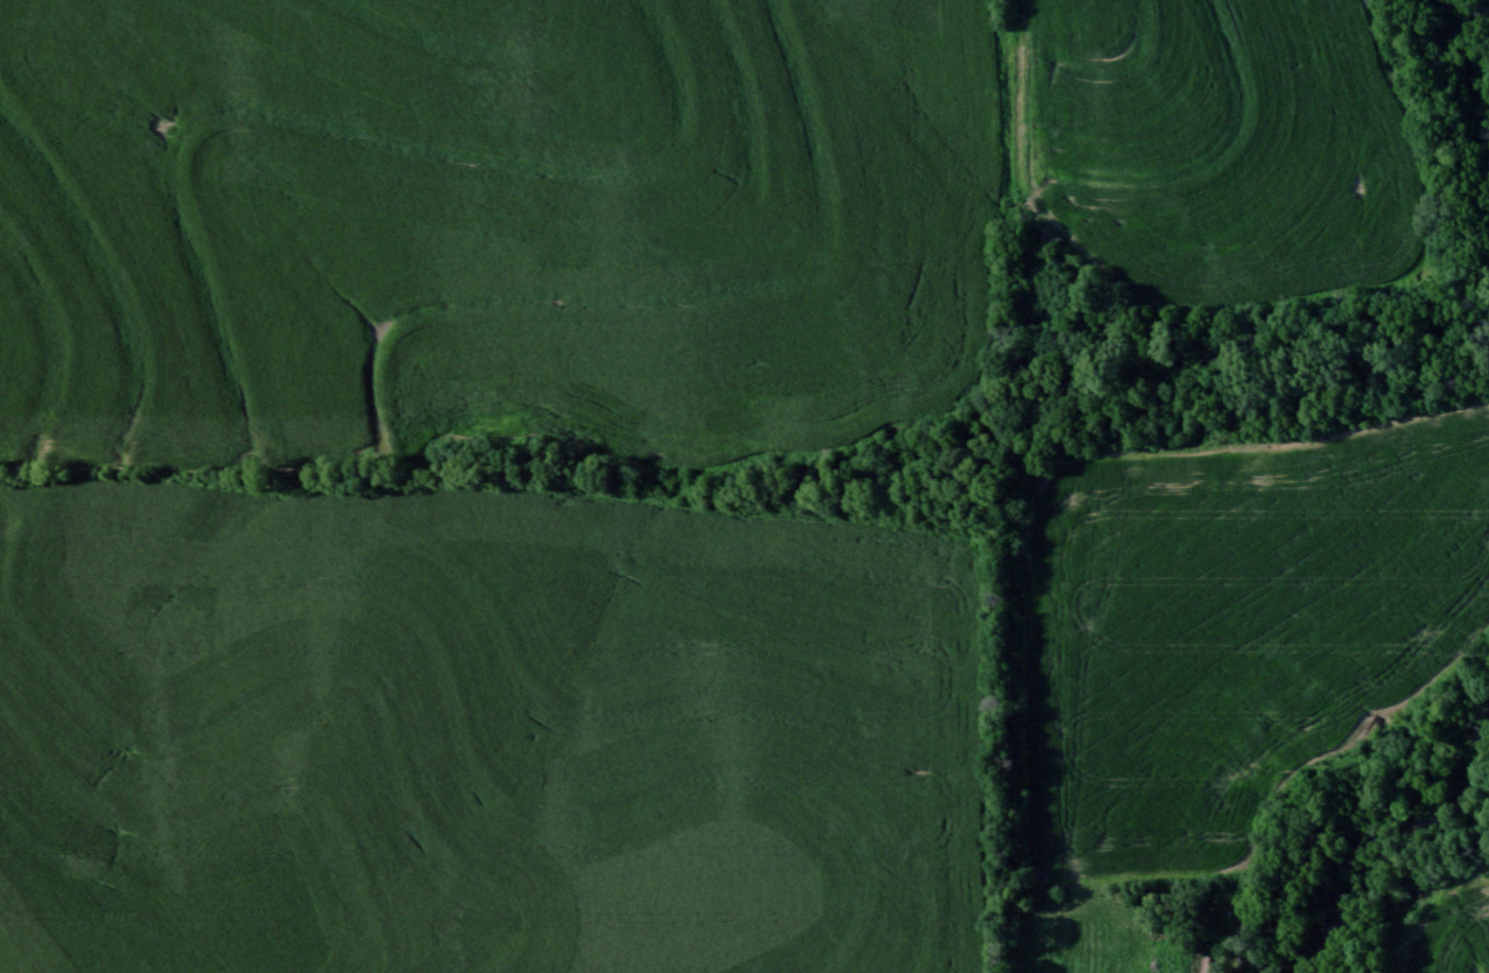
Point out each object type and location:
building: (1208, 964)

